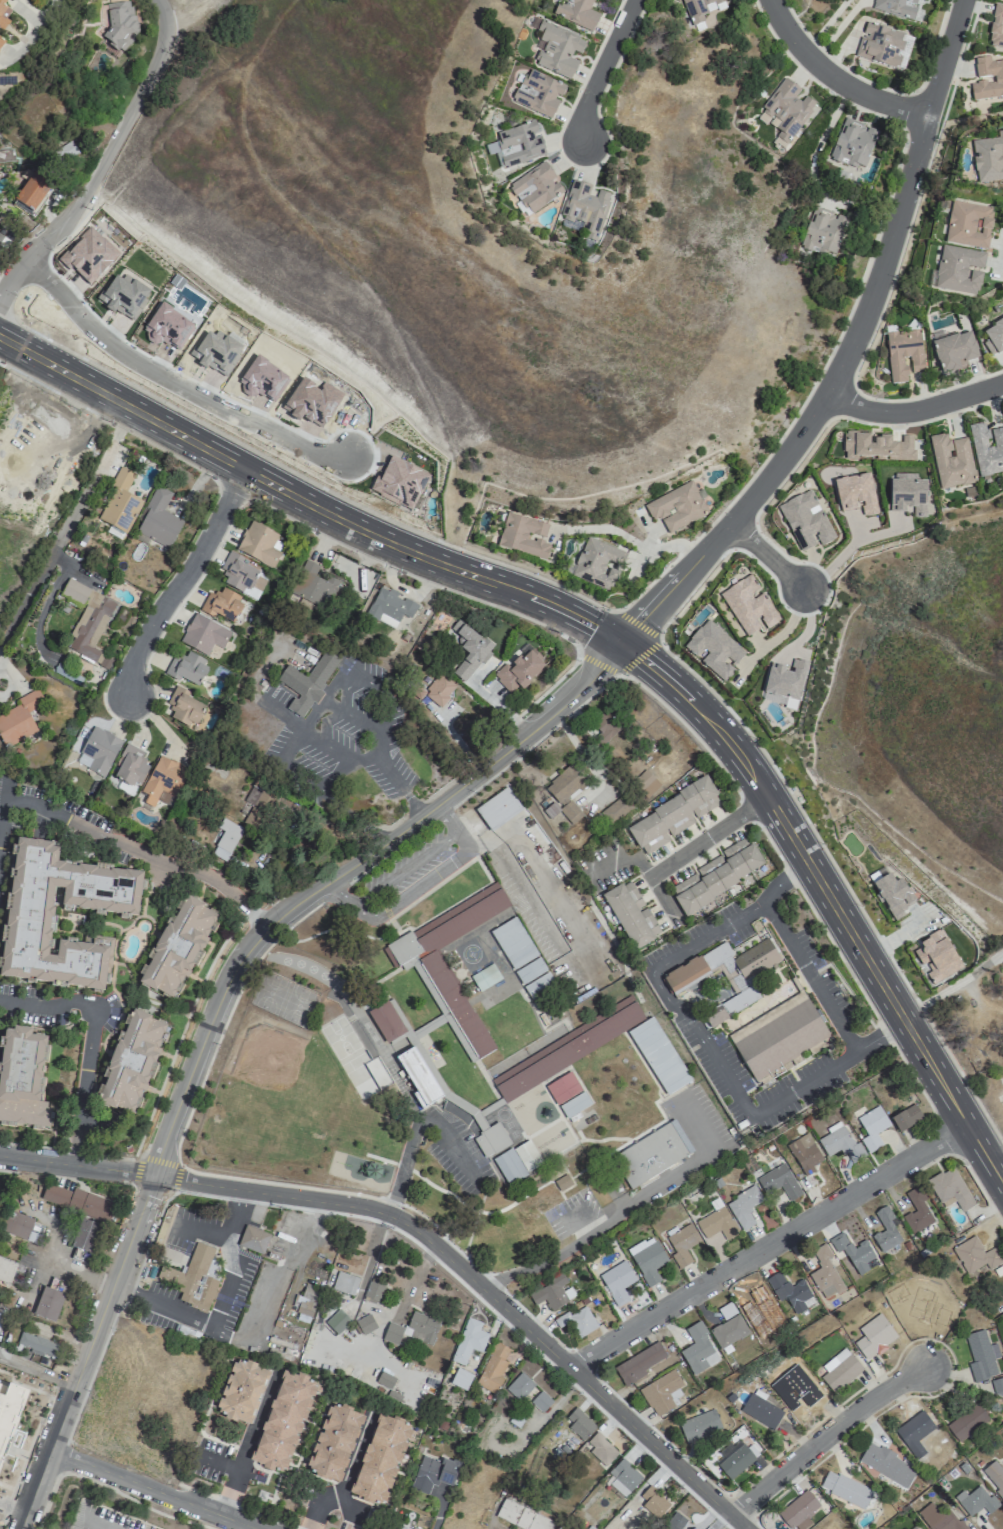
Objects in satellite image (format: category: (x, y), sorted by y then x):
building: (604, 0)
building: (896, 7)
building: (699, 9)
building: (3, 13)
building: (576, 13)
road: (827, 23)
building: (120, 25)
road: (34, 32)
building: (1, 43)
building: (881, 45)
building: (557, 49)
road: (608, 74)
road: (837, 75)
building: (998, 79)
building: (538, 93)
building: (787, 110)
building: (853, 144)
building: (518, 145)
building: (66, 153)
road: (103, 157)
building: (988, 159)
building: (535, 188)
building: (32, 192)
building: (584, 206)
building: (968, 225)
building: (823, 231)
building: (3, 243)
road: (1002, 255)
building: (88, 256)
building: (959, 270)
building: (123, 296)
road: (868, 310)
building: (168, 328)
building: (993, 337)
building: (955, 351)
building: (217, 352)
building: (904, 354)
building: (263, 378)
road: (172, 380)
building: (312, 401)
road: (916, 411)
building: (877, 447)
building: (987, 448)
building: (951, 462)
road: (304, 479)
building: (400, 482)
building: (856, 494)
building: (908, 495)
building: (119, 506)
building: (676, 507)
road: (973, 512)
building: (158, 520)
building: (805, 521)
road: (66, 529)
building: (524, 535)
road: (630, 539)
building: (260, 545)
road: (766, 557)
building: (598, 563)
road: (833, 563)
building: (241, 576)
road: (182, 583)
building: (311, 588)
road: (47, 597)
building: (222, 605)
building: (748, 606)
building: (389, 608)
road: (652, 608)
building: (88, 622)
road: (779, 634)
building: (204, 635)
road: (608, 635)
traffic signals: (620, 643)
building: (470, 648)
building: (714, 649)
road: (641, 654)
road: (962, 666)
building: (187, 669)
building: (520, 670)
building: (307, 683)
building: (785, 683)
building: (440, 690)
road: (499, 706)
building: (184, 707)
road: (289, 717)
road: (353, 717)
building: (19, 719)
building: (98, 751)
road: (376, 759)
building: (130, 766)
road: (336, 772)
building: (641, 779)
building: (163, 781)
road: (781, 781)
building: (565, 793)
road: (1, 797)
building: (258, 804)
building: (498, 809)
road: (351, 817)
building: (671, 817)
road: (708, 836)
building: (225, 840)
road: (142, 846)
road: (407, 868)
road: (336, 872)
building: (718, 874)
road: (418, 885)
road: (660, 891)
building: (893, 895)
building: (30, 911)
building: (631, 915)
building: (178, 948)
road: (259, 954)
building: (937, 955)
building: (522, 957)
road: (657, 966)
building: (431, 969)
road: (808, 974)
building: (726, 976)
road: (953, 984)
road: (47, 1005)
building: (387, 1021)
building: (780, 1038)
building: (595, 1054)
building: (132, 1061)
park: (325, 1065)
road: (827, 1068)
building: (418, 1075)
building: (22, 1077)
road: (82, 1087)
building: (562, 1088)
building: (574, 1104)
building: (906, 1117)
road: (416, 1126)
building: (872, 1128)
building: (491, 1140)
building: (840, 1143)
building: (653, 1154)
road: (997, 1157)
building: (805, 1159)
building: (517, 1162)
road: (76, 1164)
building: (562, 1182)
building: (779, 1182)
building: (949, 1189)
building: (537, 1199)
building: (77, 1200)
building: (743, 1207)
building: (917, 1211)
road: (369, 1219)
road: (606, 1220)
building: (16, 1224)
building: (715, 1225)
building: (885, 1230)
building: (84, 1235)
building: (254, 1239)
building: (681, 1244)
road: (770, 1245)
building: (853, 1252)
building: (975, 1255)
building: (647, 1259)
road: (284, 1263)
building: (7, 1270)
road: (79, 1273)
building: (824, 1273)
building: (194, 1278)
building: (617, 1282)
building: (345, 1283)
road: (480, 1287)
building: (374, 1290)
building: (553, 1292)
building: (790, 1292)
building: (307, 1303)
building: (49, 1304)
road: (221, 1306)
building: (761, 1310)
building: (922, 1316)
building: (578, 1320)
building: (338, 1321)
building: (365, 1324)
building: (414, 1328)
building: (728, 1331)
building: (874, 1340)
building: (469, 1341)
building: (37, 1344)
building: (698, 1350)
road: (86, 1352)
building: (981, 1355)
building: (641, 1363)
building: (495, 1367)
building: (840, 1370)
building: (386, 1379)
building: (461, 1379)
building: (520, 1386)
building: (800, 1388)
building: (997, 1388)
building: (242, 1391)
building: (662, 1392)
building: (541, 1401)
building: (9, 1409)
building: (762, 1410)
building: (284, 1421)
building: (967, 1423)
building: (579, 1424)
building: (701, 1426)
building: (915, 1429)
road: (824, 1437)
building: (334, 1442)
road: (250, 1443)
building: (601, 1448)
building: (735, 1457)
road: (62, 1458)
building: (381, 1459)
building: (880, 1460)
building: (434, 1473)
building: (995, 1475)
building: (624, 1477)
road: (347, 1478)
road: (108, 1486)
road: (152, 1490)
building: (851, 1492)
building: (978, 1500)
building: (653, 1502)
building: (799, 1509)
building: (523, 1516)
building: (942, 1519)
road: (103, 1522)
road: (494, 1527)
building: (671, 1527)
building: (832, 1527)
building: (915, 1527)
building: (389, 1528)
building: (414, 1528)

